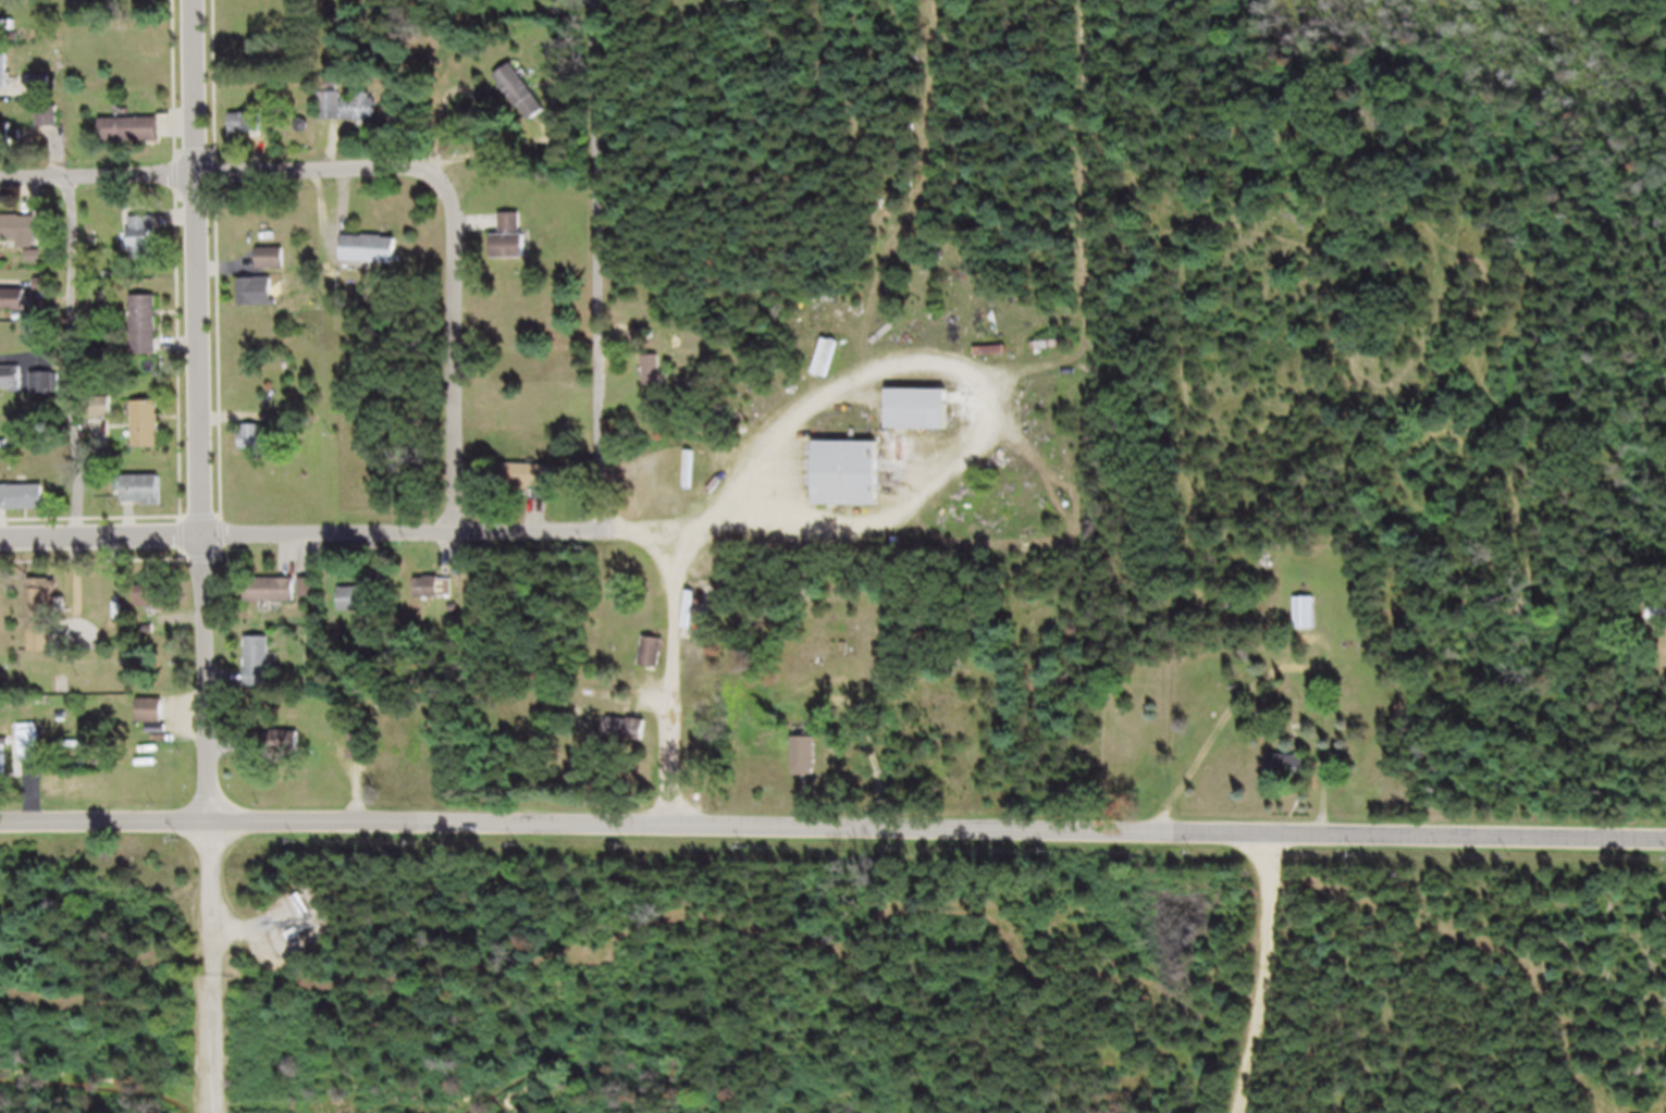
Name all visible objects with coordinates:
building: (10, 35)
building: (8, 79)
building: (526, 102)
building: (334, 109)
building: (365, 116)
building: (250, 135)
building: (137, 139)
road: (226, 183)
building: (23, 238)
building: (149, 247)
building: (516, 248)
building: (377, 259)
building: (276, 268)
road: (453, 269)
building: (263, 301)
building: (16, 309)
building: (150, 335)
building: (997, 361)
road: (77, 367)
building: (657, 380)
building: (13, 387)
building: (50, 393)
road: (614, 406)
road: (206, 415)
building: (927, 420)
building: (152, 433)
building: (259, 448)
building: (854, 483)
building: (532, 487)
building: (148, 499)
building: (25, 507)
road: (308, 542)
building: (432, 596)
building: (276, 601)
building: (158, 606)
building: (365, 607)
building: (1309, 622)
building: (1661, 622)
building: (48, 632)
building: (656, 658)
building: (263, 671)
building: (156, 721)
building: (632, 739)
building: (33, 755)
building: (365, 755)
building: (811, 767)
building: (5, 771)
building: (1294, 776)
road: (832, 836)
building: (354, 924)
road: (211, 972)

